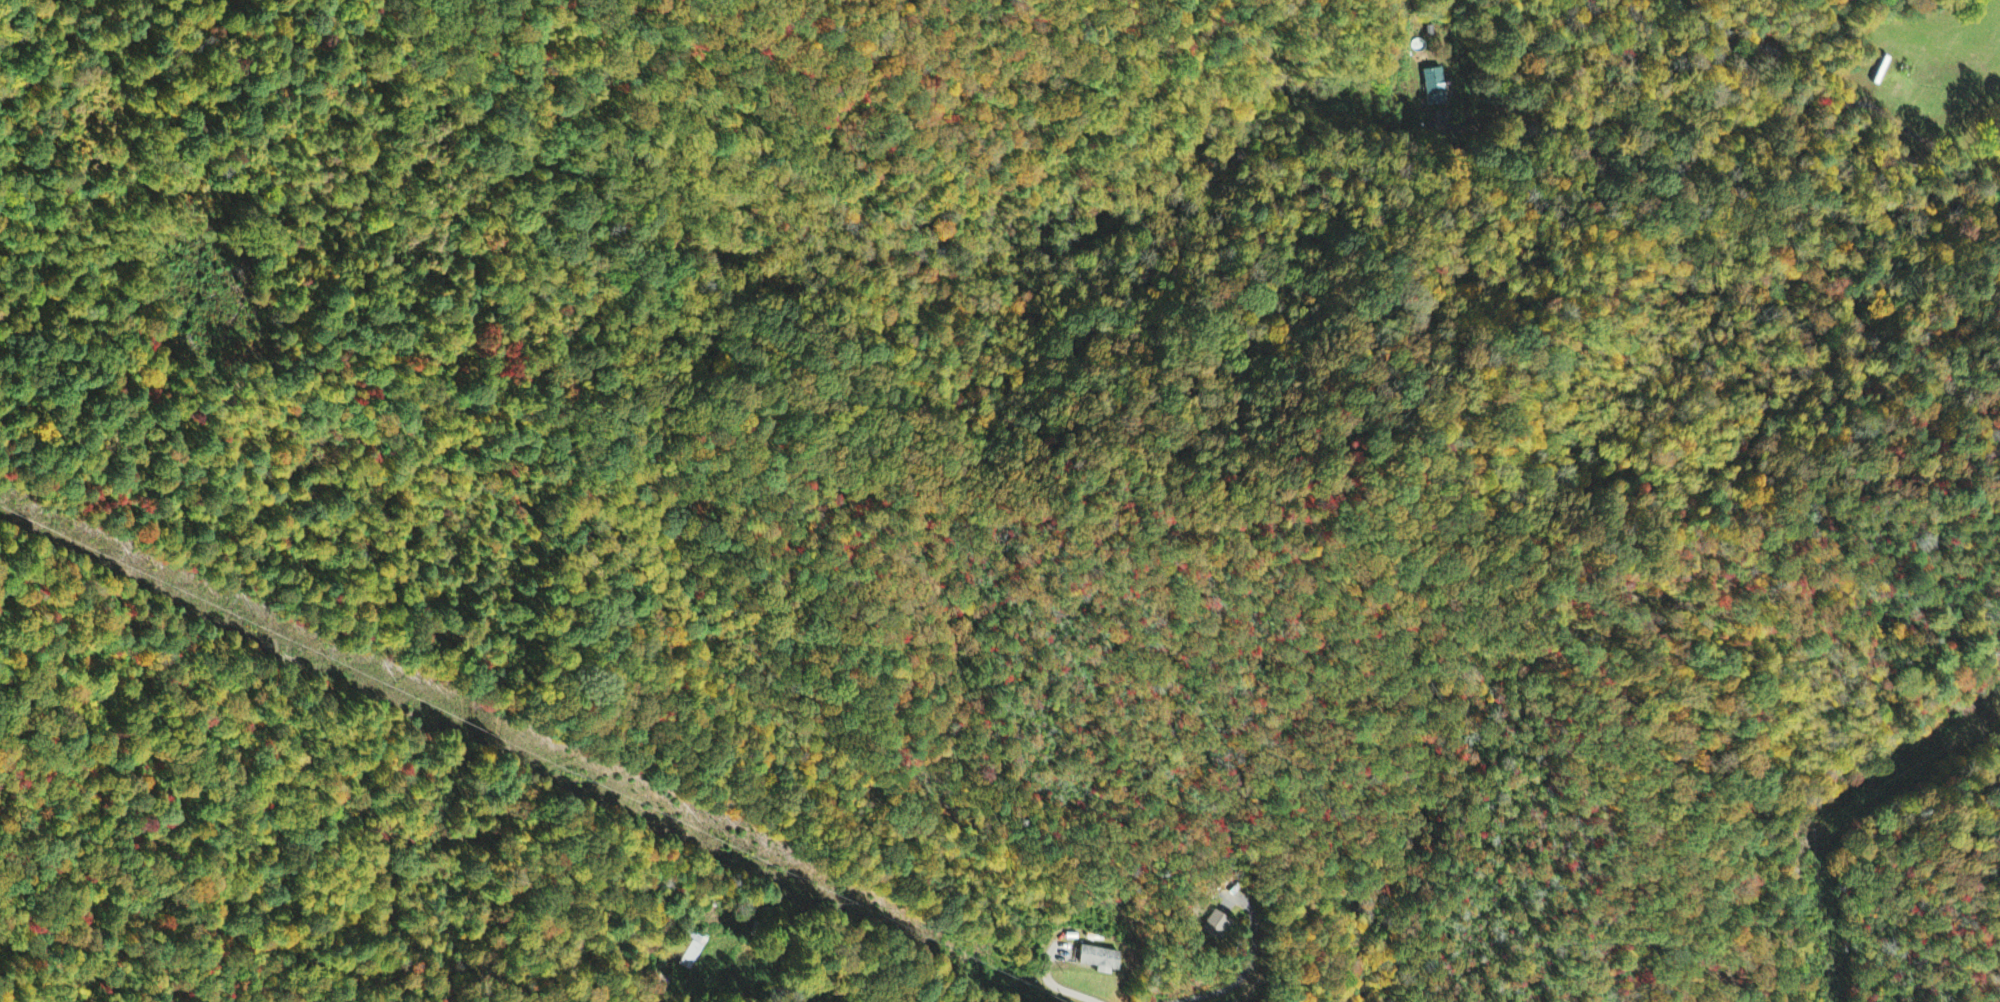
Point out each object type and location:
building: (1433, 88)
building: (1216, 927)
building: (1095, 956)

